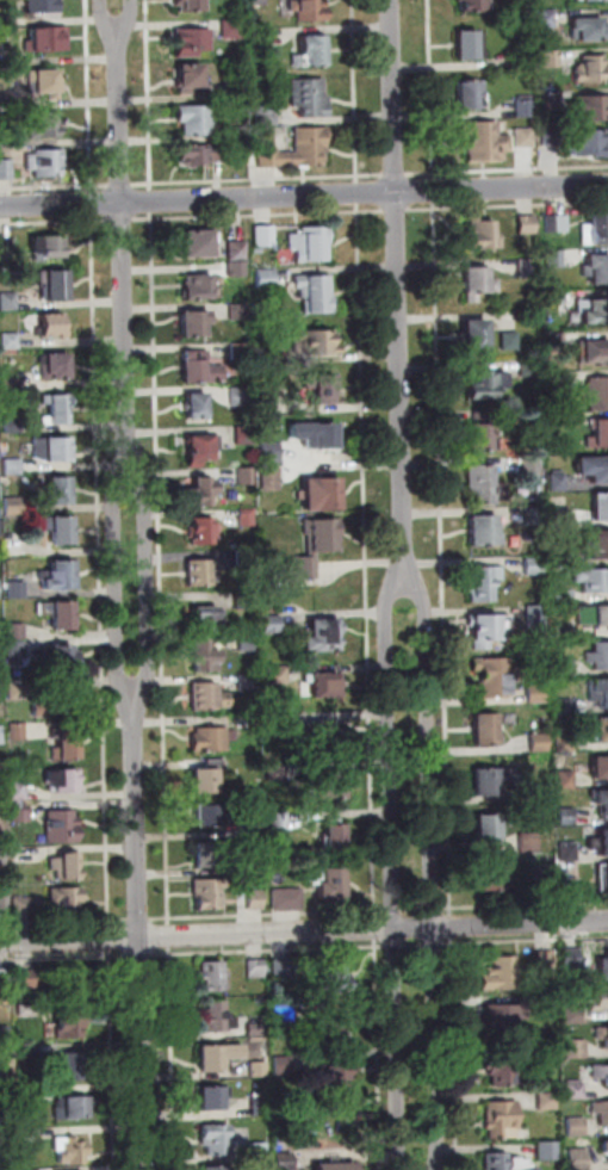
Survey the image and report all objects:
building: (590, 0)
building: (258, 2)
building: (191, 5)
building: (472, 5)
building: (43, 6)
building: (308, 10)
road: (128, 14)
road: (104, 16)
building: (546, 18)
building: (6, 20)
building: (231, 27)
building: (588, 29)
building: (259, 38)
building: (48, 39)
building: (192, 42)
building: (471, 44)
building: (310, 51)
building: (521, 56)
building: (551, 58)
building: (590, 69)
building: (190, 76)
building: (49, 81)
building: (235, 89)
road: (432, 89)
road: (355, 91)
road: (149, 94)
building: (471, 94)
road: (89, 95)
building: (310, 97)
building: (6, 100)
building: (550, 100)
building: (525, 107)
building: (591, 107)
building: (266, 116)
building: (196, 120)
building: (46, 126)
building: (236, 132)
building: (552, 136)
building: (525, 137)
building: (6, 138)
building: (485, 141)
building: (590, 143)
building: (298, 150)
building: (200, 154)
building: (46, 162)
building: (6, 169)
road: (507, 169)
road: (396, 175)
road: (259, 179)
road: (122, 185)
road: (55, 187)
road: (434, 191)
road: (359, 193)
road: (303, 194)
road: (151, 200)
road: (92, 203)
road: (507, 205)
road: (396, 210)
road: (260, 215)
road: (122, 219)
road: (55, 222)
building: (557, 223)
building: (527, 224)
building: (595, 229)
building: (265, 235)
building: (483, 236)
building: (199, 242)
building: (308, 244)
building: (52, 246)
building: (236, 249)
road: (123, 255)
building: (554, 259)
building: (527, 267)
building: (596, 268)
building: (236, 270)
building: (265, 277)
building: (478, 281)
building: (55, 285)
building: (199, 285)
road: (398, 291)
building: (315, 292)
building: (554, 298)
building: (8, 301)
building: (256, 308)
building: (594, 310)
building: (240, 312)
building: (196, 322)
building: (52, 323)
building: (476, 335)
building: (317, 340)
building: (509, 340)
building: (11, 341)
building: (556, 342)
building: (241, 351)
building: (593, 352)
building: (267, 357)
building: (56, 366)
building: (528, 366)
building: (200, 369)
building: (558, 382)
building: (485, 383)
building: (11, 385)
building: (321, 386)
building: (596, 394)
building: (238, 396)
building: (198, 404)
building: (58, 409)
building: (557, 420)
building: (12, 425)
building: (315, 433)
building: (598, 433)
building: (243, 434)
building: (483, 437)
building: (54, 448)
building: (200, 448)
building: (271, 452)
building: (14, 466)
building: (594, 468)
building: (247, 476)
building: (271, 478)
building: (558, 482)
building: (485, 485)
building: (61, 489)
building: (201, 491)
building: (319, 493)
building: (15, 506)
building: (601, 506)
building: (560, 514)
building: (248, 516)
building: (534, 516)
building: (60, 527)
building: (204, 531)
building: (484, 531)
building: (600, 544)
building: (317, 546)
building: (247, 558)
road: (443, 559)
road: (366, 561)
building: (534, 565)
road: (161, 569)
road: (101, 570)
building: (200, 572)
building: (62, 575)
building: (594, 580)
building: (484, 583)
road: (147, 584)
building: (18, 590)
road: (118, 590)
building: (564, 596)
building: (243, 601)
building: (64, 614)
building: (593, 615)
building: (206, 618)
building: (538, 619)
building: (273, 624)
building: (489, 629)
building: (18, 631)
building: (563, 632)
building: (0, 633)
building: (325, 634)
building: (248, 643)
building: (18, 649)
building: (0, 652)
building: (600, 656)
building: (62, 657)
building: (205, 657)
building: (565, 668)
building: (279, 675)
building: (496, 676)
building: (249, 682)
building: (327, 685)
building: (18, 691)
building: (598, 691)
building: (0, 694)
building: (538, 694)
building: (210, 697)
building: (55, 702)
building: (565, 707)
building: (248, 722)
building: (274, 722)
building: (601, 728)
building: (488, 729)
building: (18, 731)
building: (1, 735)
building: (324, 735)
building: (213, 739)
building: (540, 742)
building: (67, 744)
building: (566, 744)
building: (601, 767)
building: (277, 773)
building: (2, 774)
building: (64, 780)
building: (566, 780)
building: (206, 781)
building: (489, 781)
building: (329, 787)
building: (19, 790)
building: (541, 793)
building: (602, 801)
building: (21, 813)
building: (213, 815)
building: (567, 817)
building: (4, 819)
building: (279, 821)
building: (63, 827)
building: (489, 828)
building: (252, 829)
building: (337, 838)
building: (529, 842)
building: (603, 842)
building: (569, 852)
building: (209, 855)
building: (2, 856)
building: (255, 863)
building: (69, 866)
road: (396, 873)
road: (433, 873)
building: (495, 875)
building: (603, 879)
building: (335, 883)
building: (570, 889)
building: (542, 890)
building: (210, 893)
building: (66, 899)
building: (256, 899)
building: (289, 899)
building: (5, 904)
road: (525, 904)
building: (24, 905)
road: (414, 909)
road: (434, 909)
road: (395, 911)
road: (269, 915)
road: (139, 920)
road: (64, 922)
road: (453, 926)
road: (141, 927)
road: (376, 928)
road: (304, 931)
road: (170, 936)
road: (111, 937)
road: (525, 941)
road: (434, 945)
road: (395, 946)
road: (415, 946)
road: (269, 951)
road: (142, 955)
road: (66, 958)
building: (571, 959)
building: (546, 960)
building: (284, 967)
building: (256, 968)
building: (603, 968)
building: (501, 974)
building: (215, 977)
building: (335, 977)
building: (5, 978)
building: (27, 979)
building: (66, 983)
building: (597, 998)
building: (548, 1003)
building: (27, 1010)
building: (285, 1014)
building: (218, 1016)
building: (500, 1016)
building: (573, 1016)
building: (72, 1023)
building: (337, 1024)
building: (258, 1029)
building: (5, 1034)
building: (603, 1035)
building: (577, 1050)
building: (30, 1051)
road: (457, 1052)
building: (548, 1052)
road: (379, 1054)
building: (219, 1057)
road: (173, 1058)
road: (113, 1059)
building: (74, 1066)
building: (285, 1066)
building: (261, 1069)
building: (503, 1070)
building: (7, 1072)
building: (601, 1072)
building: (339, 1077)
building: (576, 1091)
building: (32, 1094)
building: (215, 1098)
building: (548, 1101)
building: (260, 1106)
building: (75, 1108)
building: (601, 1112)
building: (503, 1120)
building: (294, 1125)
building: (577, 1127)
building: (30, 1135)
building: (217, 1140)
building: (606, 1147)
building: (72, 1151)
building: (260, 1151)
building: (548, 1152)
building: (579, 1154)
building: (6, 1162)
building: (286, 1162)
building: (505, 1163)
building: (271, 1165)
building: (339, 1166)
building: (215, 1168)

